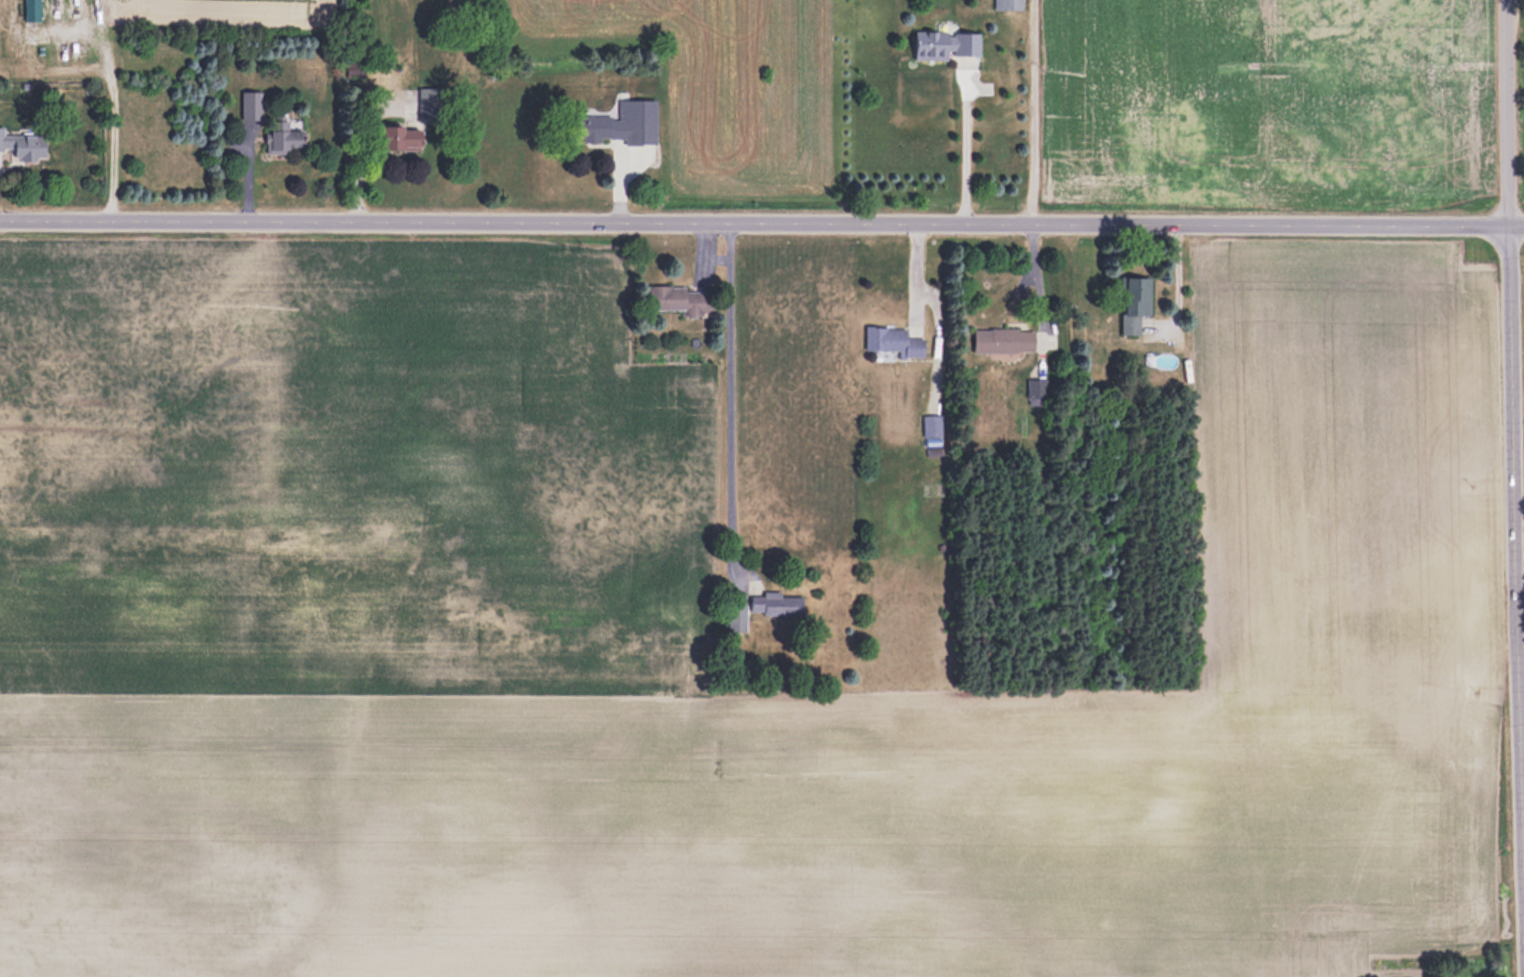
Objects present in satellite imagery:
building: (1008, 4)
building: (79, 18)
building: (12, 29)
building: (946, 44)
building: (71, 49)
building: (428, 103)
building: (250, 104)
building: (594, 126)
building: (283, 136)
building: (400, 137)
building: (22, 145)
road: (964, 148)
road: (762, 228)
building: (680, 300)
building: (1134, 301)
building: (1002, 340)
building: (893, 341)
building: (1036, 391)
road: (730, 399)
road: (1513, 415)
building: (932, 425)
building: (775, 604)
building: (736, 618)

